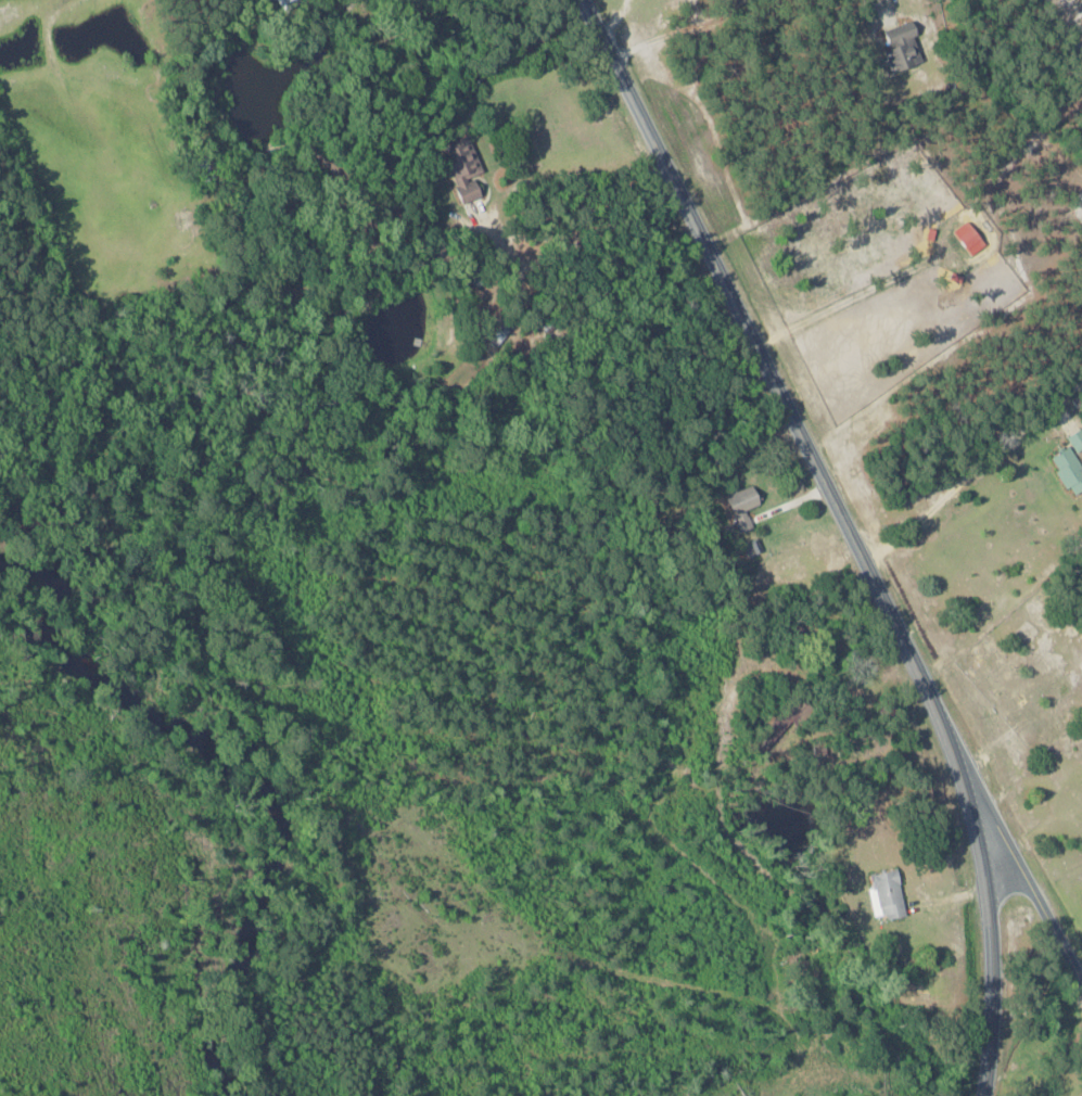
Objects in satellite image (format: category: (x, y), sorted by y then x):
building: (284, 3)
building: (902, 44)
building: (464, 168)
road: (708, 247)
building: (1077, 439)
building: (1069, 470)
building: (742, 499)
road: (962, 783)
road: (1014, 855)
building: (889, 893)

